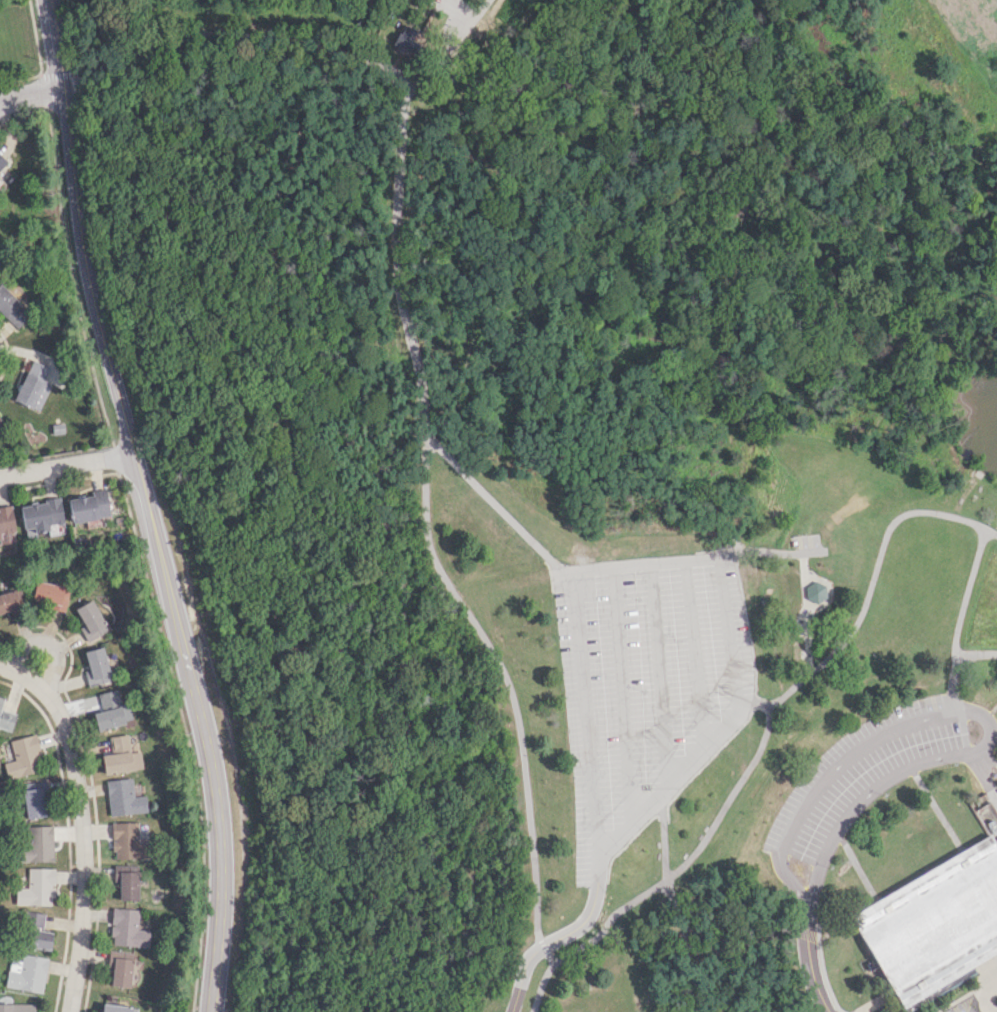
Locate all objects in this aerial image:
road: (233, 34)
building: (406, 39)
road: (444, 51)
road: (28, 93)
building: (2, 162)
road: (397, 267)
building: (12, 308)
building: (34, 386)
building: (1, 427)
road: (68, 466)
park: (577, 485)
road: (493, 502)
road: (148, 505)
building: (88, 506)
building: (40, 514)
building: (6, 526)
road: (990, 533)
road: (674, 562)
road: (866, 591)
building: (814, 592)
building: (51, 594)
building: (8, 601)
road: (959, 617)
building: (91, 619)
road: (48, 643)
road: (975, 655)
road: (692, 656)
building: (97, 666)
road: (502, 674)
road: (657, 675)
parking lot: (642, 687)
road: (620, 699)
road: (966, 705)
building: (112, 710)
building: (6, 717)
building: (121, 756)
building: (24, 757)
parking lot: (875, 769)
building: (125, 797)
building: (35, 799)
road: (81, 822)
building: (128, 841)
building: (37, 844)
road: (689, 856)
building: (127, 881)
building: (37, 888)
road: (683, 923)
building: (934, 924)
building: (128, 928)
building: (35, 931)
road: (806, 933)
road: (556, 939)
road: (542, 945)
road: (808, 962)
building: (120, 967)
building: (27, 973)
road: (824, 975)
road: (543, 982)
road: (987, 1004)
building: (17, 1007)
building: (117, 1008)
parking lot: (810, 1011)

